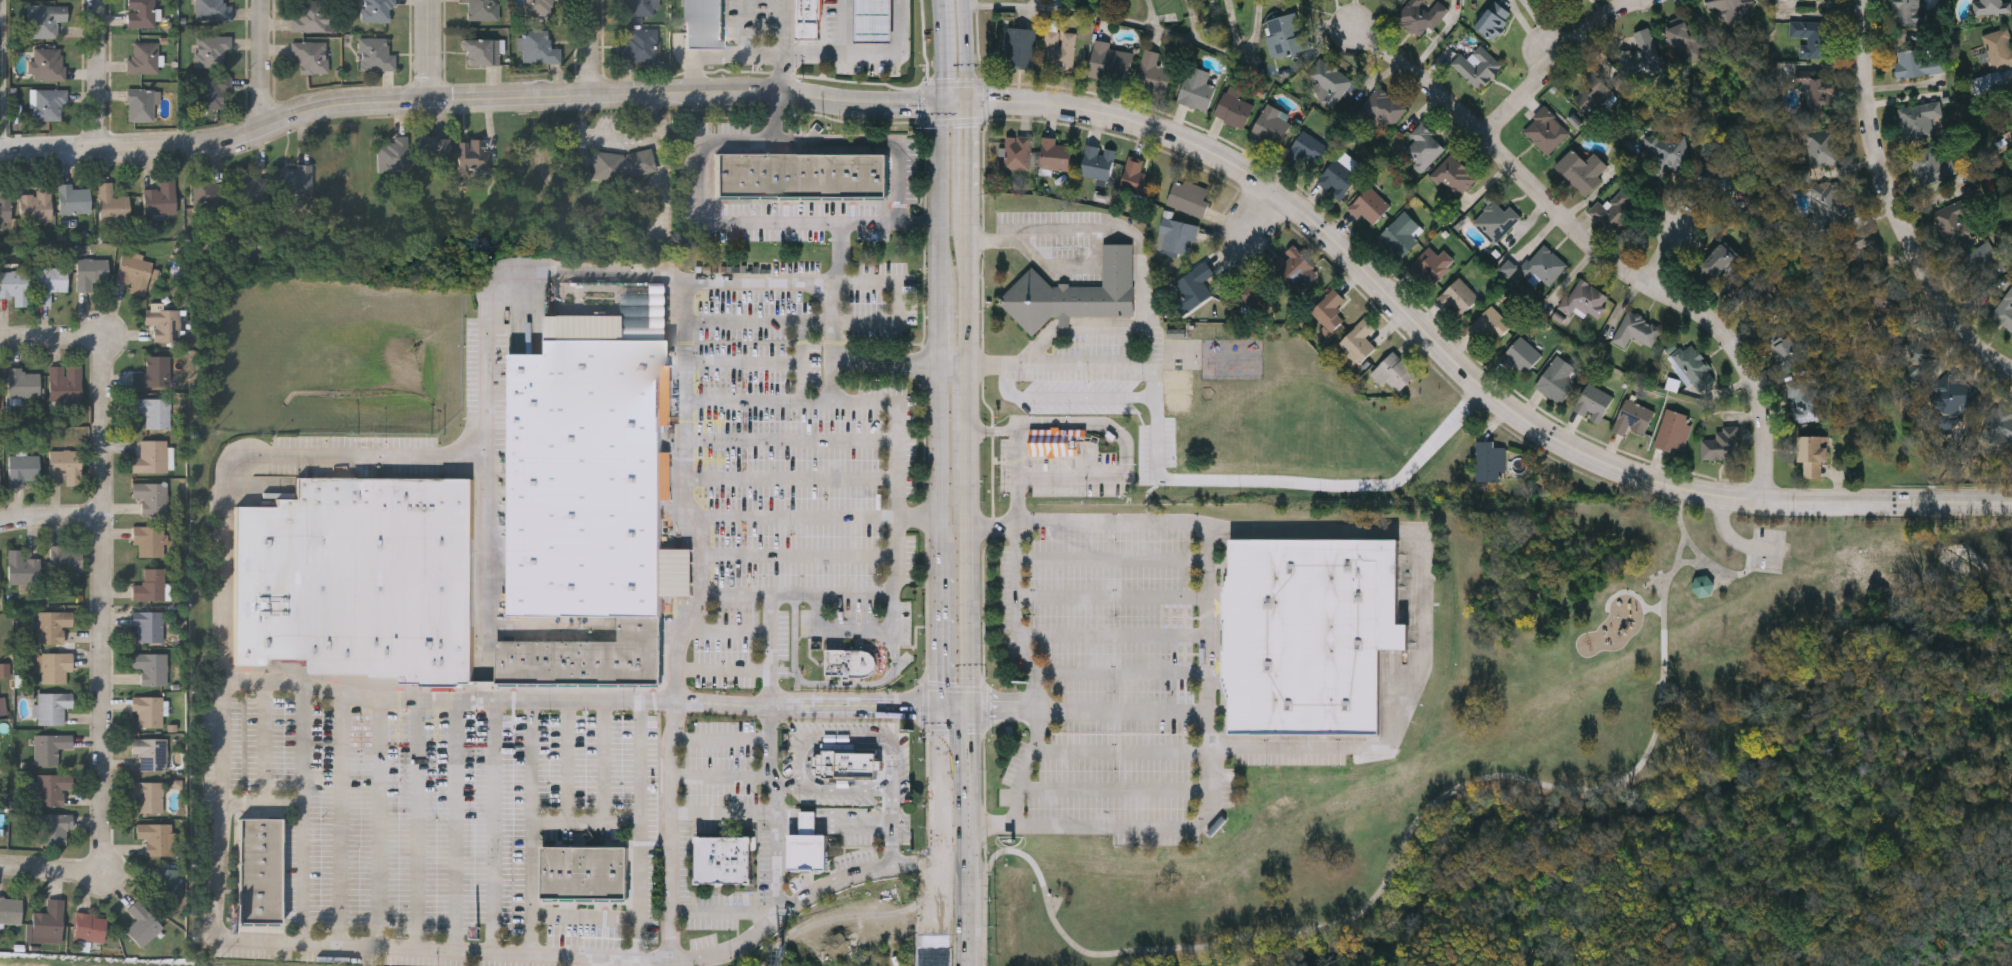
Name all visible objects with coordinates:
building: (1990, 6)
building: (538, 7)
building: (640, 7)
building: (1724, 7)
building: (212, 9)
building: (481, 9)
building: (375, 10)
building: (1904, 11)
building: (140, 13)
building: (310, 15)
building: (1419, 15)
building: (810, 18)
building: (1493, 19)
building: (44, 20)
building: (874, 21)
road: (1131, 21)
building: (705, 25)
road: (845, 25)
road: (1543, 29)
road: (1531, 33)
building: (1285, 34)
building: (1811, 36)
building: (1684, 41)
building: (639, 45)
road: (746, 45)
building: (537, 47)
building: (1020, 47)
road: (593, 48)
road: (783, 48)
building: (1998, 48)
building: (211, 49)
road: (963, 50)
building: (1059, 50)
building: (1648, 50)
road: (430, 51)
building: (480, 51)
road: (899, 51)
road: (942, 51)
road: (814, 52)
building: (374, 54)
road: (700, 54)
building: (310, 56)
building: (144, 57)
road: (1558, 61)
building: (1110, 62)
building: (1917, 62)
building: (48, 64)
road: (266, 65)
building: (1477, 65)
building: (1152, 73)
road: (99, 76)
road: (4, 78)
building: (1996, 79)
building: (1326, 80)
building: (1196, 88)
building: (212, 90)
building: (1817, 92)
building: (1592, 93)
building: (2010, 97)
road: (468, 100)
road: (955, 102)
traffic signals: (966, 102)
traffic signals: (944, 103)
building: (47, 104)
building: (139, 105)
building: (1233, 107)
building: (1382, 107)
road: (775, 119)
building: (1917, 119)
building: (1270, 126)
building: (1545, 128)
building: (2009, 137)
road: (624, 139)
building: (435, 142)
road: (859, 142)
building: (1422, 146)
building: (1822, 148)
building: (1305, 149)
building: (474, 150)
building: (393, 152)
building: (1017, 152)
building: (1668, 152)
road: (967, 153)
building: (1055, 154)
building: (1097, 162)
building: (623, 165)
building: (1931, 165)
building: (1582, 169)
building: (1340, 174)
building: (293, 176)
building: (803, 176)
building: (1452, 176)
building: (1136, 177)
building: (1720, 178)
building: (254, 185)
building: (210, 193)
building: (161, 196)
building: (1187, 196)
building: (74, 197)
building: (1835, 198)
building: (112, 201)
building: (35, 204)
road: (1893, 204)
building: (1369, 205)
building: (5, 206)
building: (1613, 211)
road: (1258, 212)
building: (1956, 218)
building: (1495, 219)
road: (718, 224)
building: (1400, 233)
building: (1177, 235)
road: (1672, 237)
building: (196, 244)
road: (1599, 252)
building: (1717, 260)
building: (1983, 262)
building: (1292, 264)
building: (1541, 264)
road: (1068, 265)
building: (1433, 265)
building: (1509, 268)
building: (91, 271)
building: (135, 271)
building: (50, 281)
road: (758, 283)
road: (968, 283)
building: (15, 284)
road: (1142, 285)
building: (1197, 285)
building: (1075, 291)
building: (1746, 291)
building: (1252, 292)
building: (1458, 296)
building: (1585, 299)
building: (1880, 305)
building: (1329, 309)
building: (2004, 309)
building: (164, 321)
building: (1489, 323)
building: (1635, 329)
building: (1176, 333)
road: (52, 337)
building: (1357, 343)
building: (1783, 348)
building: (1913, 348)
building: (1521, 355)
road: (1106, 359)
road: (887, 363)
road: (954, 363)
building: (1694, 366)
road: (1462, 368)
road: (808, 369)
building: (154, 371)
building: (1393, 372)
building: (1555, 379)
building: (23, 381)
building: (65, 382)
road: (833, 389)
road: (820, 390)
building: (1954, 393)
road: (1068, 397)
building: (1802, 400)
building: (1592, 402)
building: (153, 409)
road: (968, 416)
building: (1632, 417)
road: (1094, 424)
building: (2003, 424)
building: (1672, 430)
road: (791, 431)
building: (1055, 441)
building: (1718, 443)
building: (1813, 454)
building: (153, 455)
road: (280, 456)
building: (1488, 460)
building: (66, 463)
building: (23, 466)
road: (791, 470)
building: (591, 475)
building: (0, 479)
road: (1067, 481)
road: (1303, 482)
building: (151, 495)
road: (53, 515)
road: (797, 516)
road: (919, 516)
road: (940, 534)
building: (148, 537)
road: (1732, 538)
road: (1017, 546)
road: (1694, 550)
parking lot: (1765, 550)
road: (800, 553)
building: (66, 557)
road: (1112, 562)
building: (23, 566)
road: (1713, 567)
building: (361, 578)
road: (486, 578)
road: (970, 583)
building: (152, 584)
building: (1703, 585)
road: (1427, 593)
road: (799, 595)
road: (107, 597)
road: (1112, 597)
building: (53, 624)
building: (149, 625)
building: (640, 629)
road: (857, 631)
road: (728, 632)
road: (1114, 633)
building: (1311, 635)
road: (771, 653)
building: (579, 663)
building: (851, 663)
building: (150, 665)
building: (55, 666)
road: (724, 668)
road: (1122, 676)
road: (827, 684)
parking lot: (1117, 691)
parking lot: (634, 698)
traffic signals: (973, 698)
road: (1010, 698)
road: (824, 699)
traffic signals: (939, 699)
road: (450, 700)
building: (52, 706)
building: (3, 707)
building: (148, 708)
road: (1124, 710)
road: (859, 713)
traffic signals: (937, 714)
traffic signals: (973, 714)
road: (722, 740)
road: (854, 740)
building: (50, 746)
building: (151, 750)
road: (975, 753)
road: (568, 761)
road: (605, 761)
building: (848, 765)
road: (807, 766)
road: (1026, 767)
road: (721, 775)
road: (1211, 785)
building: (52, 787)
road: (788, 790)
road: (847, 790)
road: (1114, 791)
building: (148, 794)
road: (264, 801)
road: (725, 812)
road: (779, 813)
road: (305, 816)
road: (340, 820)
road: (586, 821)
building: (809, 823)
road: (382, 824)
road: (417, 825)
road: (455, 826)
building: (55, 827)
road: (492, 827)
road: (531, 827)
road: (1408, 834)
building: (155, 836)
road: (892, 836)
building: (809, 853)
road: (642, 860)
building: (726, 861)
building: (260, 868)
road: (58, 870)
building: (586, 874)
building: (164, 881)
road: (979, 886)
building: (10, 907)
road: (957, 909)
road: (725, 910)
building: (49, 917)
building: (142, 922)
building: (90, 926)

